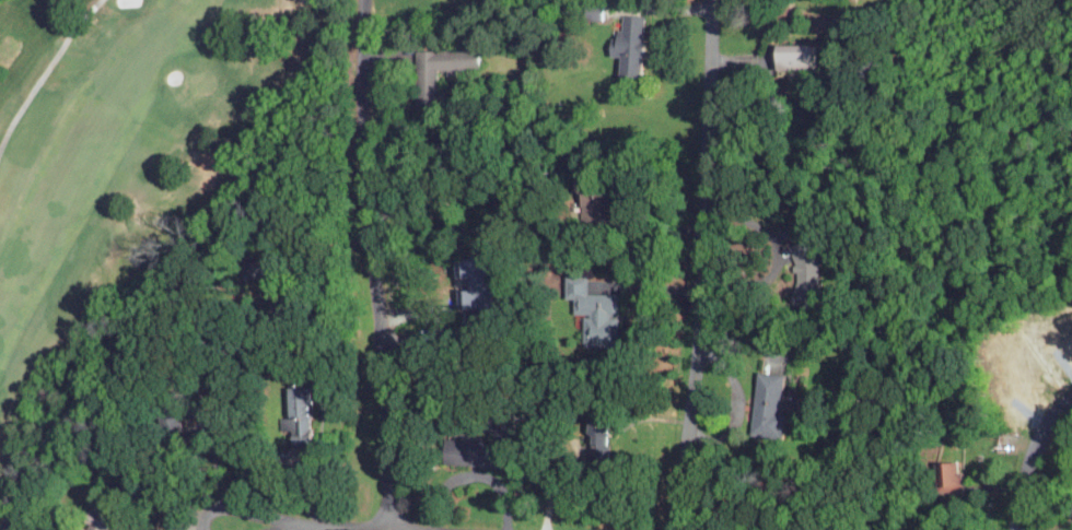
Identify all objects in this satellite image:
road: (727, 5)
building: (629, 46)
building: (795, 57)
road: (45, 72)
building: (426, 89)
park: (123, 158)
building: (602, 200)
road: (779, 254)
road: (372, 264)
road: (702, 266)
building: (268, 273)
building: (804, 273)
building: (475, 282)
building: (595, 309)
building: (776, 363)
road: (733, 402)
building: (766, 403)
building: (182, 415)
building: (300, 415)
building: (598, 434)
building: (477, 451)
road: (1030, 458)
road: (243, 511)
building: (100, 519)
road: (171, 527)
road: (291, 528)
road: (334, 528)

